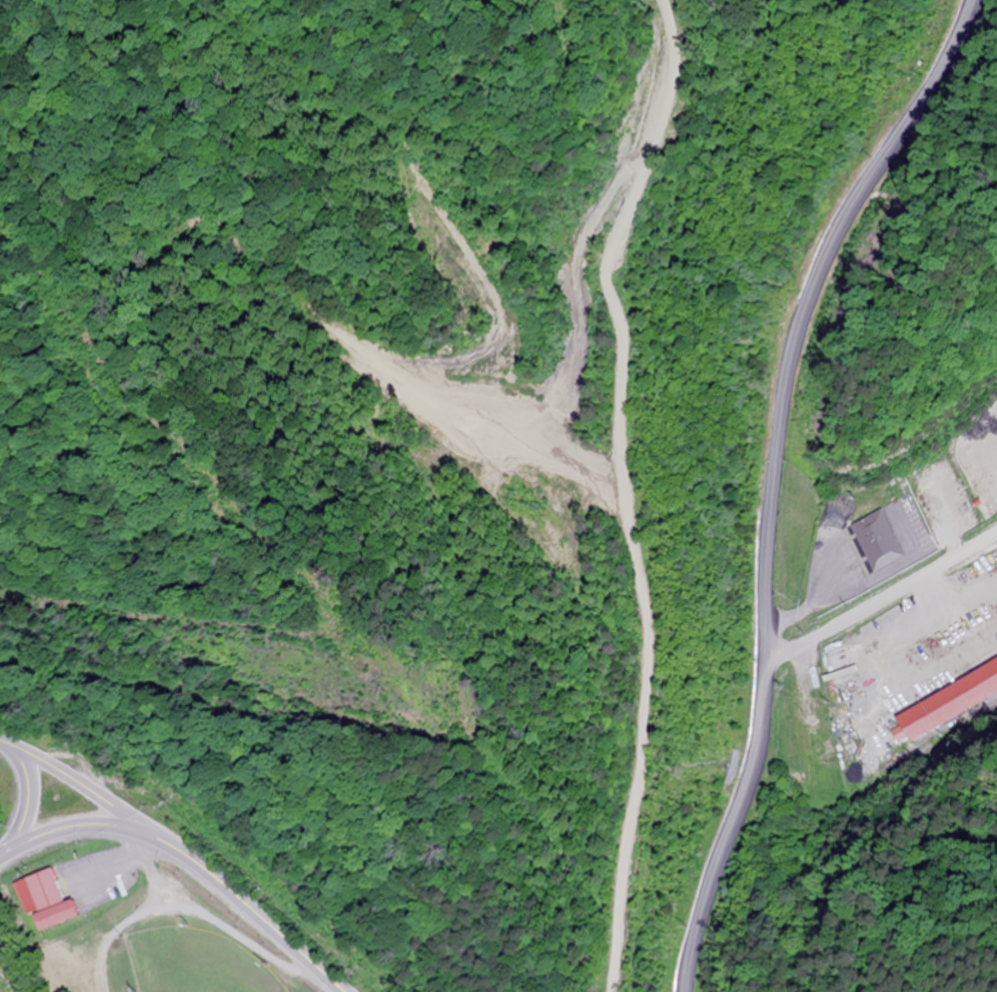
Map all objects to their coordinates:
road: (804, 365)
building: (882, 540)
building: (951, 703)
building: (819, 711)
road: (774, 750)
road: (81, 785)
road: (28, 796)
road: (77, 823)
building: (54, 901)
road: (254, 912)
river: (16, 961)
park: (196, 962)

